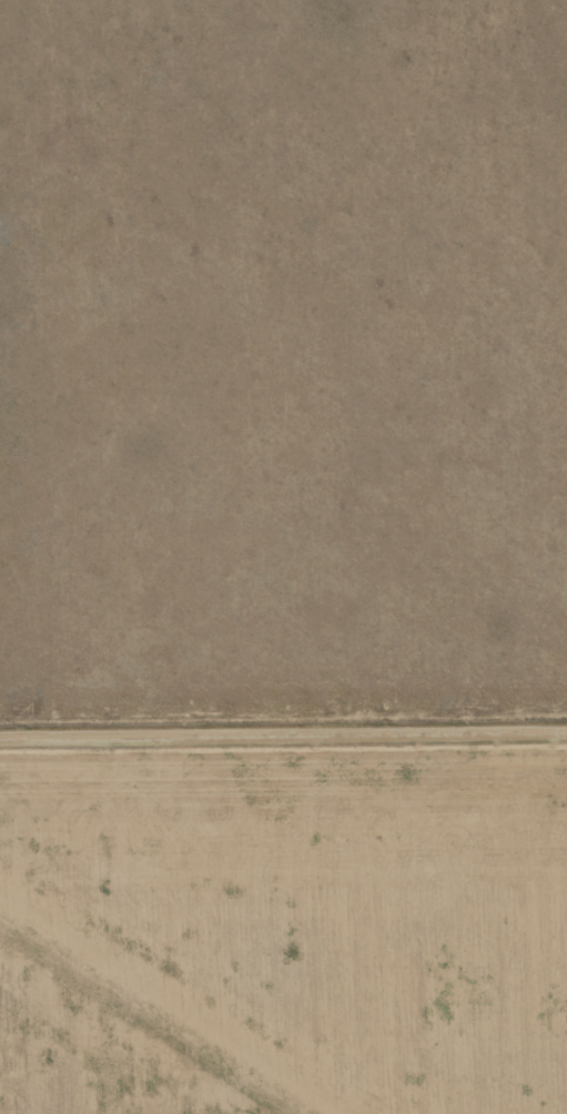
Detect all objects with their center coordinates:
road: (283, 731)

